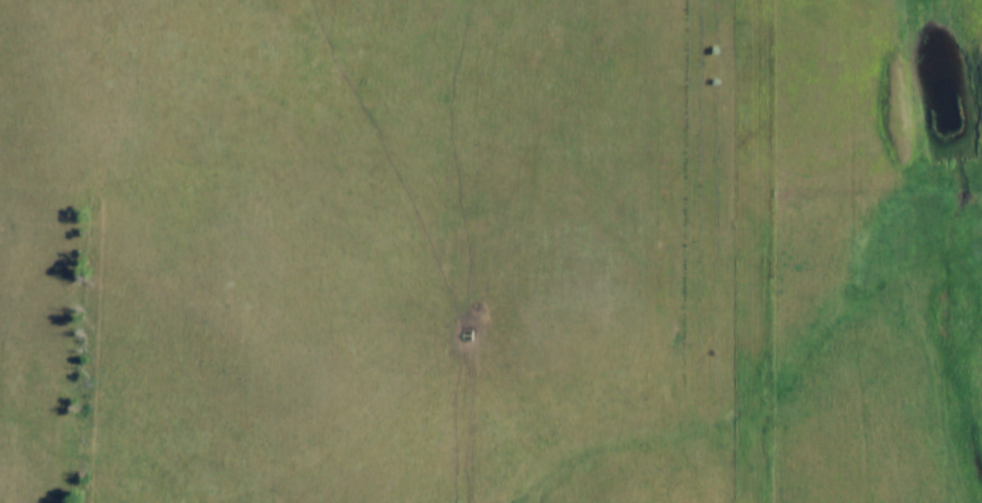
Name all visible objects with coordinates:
road: (764, 253)

